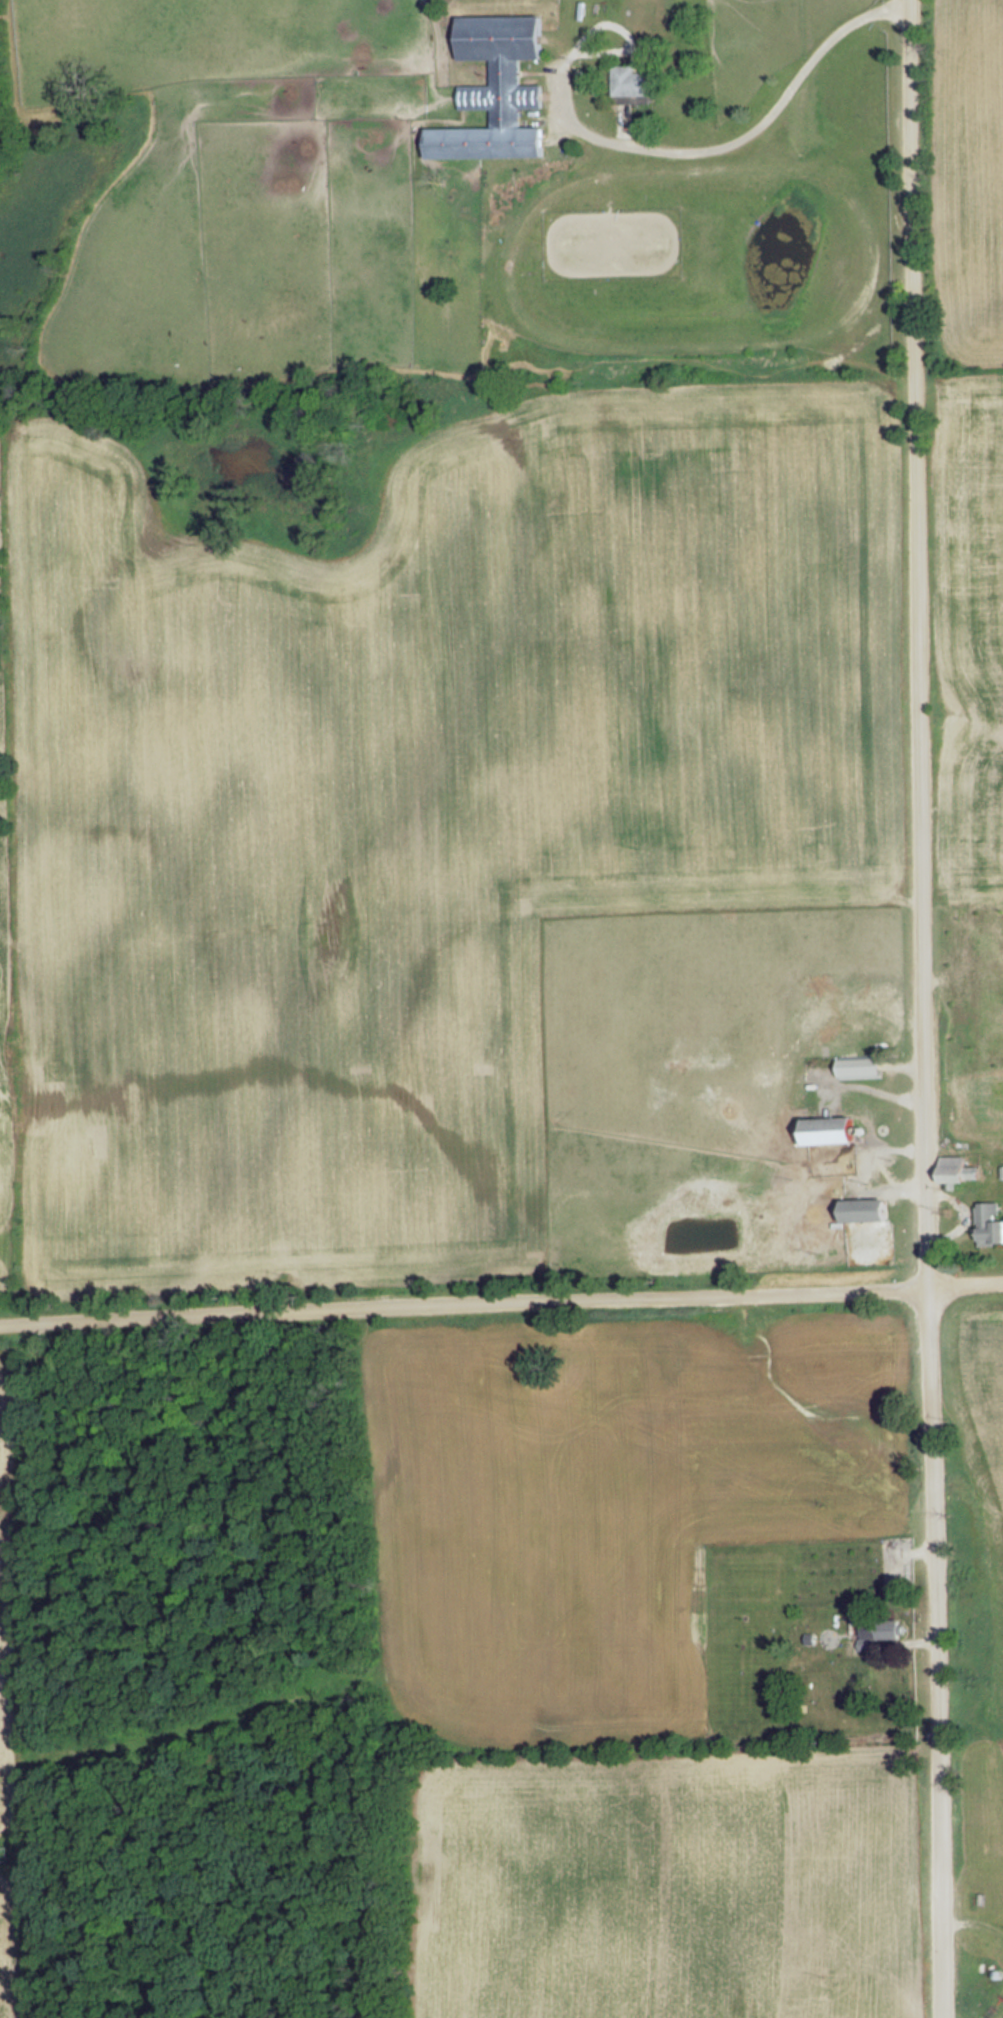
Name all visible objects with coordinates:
building: (633, 82)
building: (494, 90)
road: (623, 124)
road: (728, 143)
park: (611, 243)
road: (926, 1009)
road: (910, 1063)
building: (862, 1066)
road: (889, 1094)
building: (839, 1130)
road: (893, 1146)
building: (960, 1169)
road: (903, 1188)
building: (869, 1209)
road: (963, 1215)
building: (990, 1223)
road: (967, 1284)
road: (465, 1305)
building: (888, 1629)
power tower: (4, 1856)

